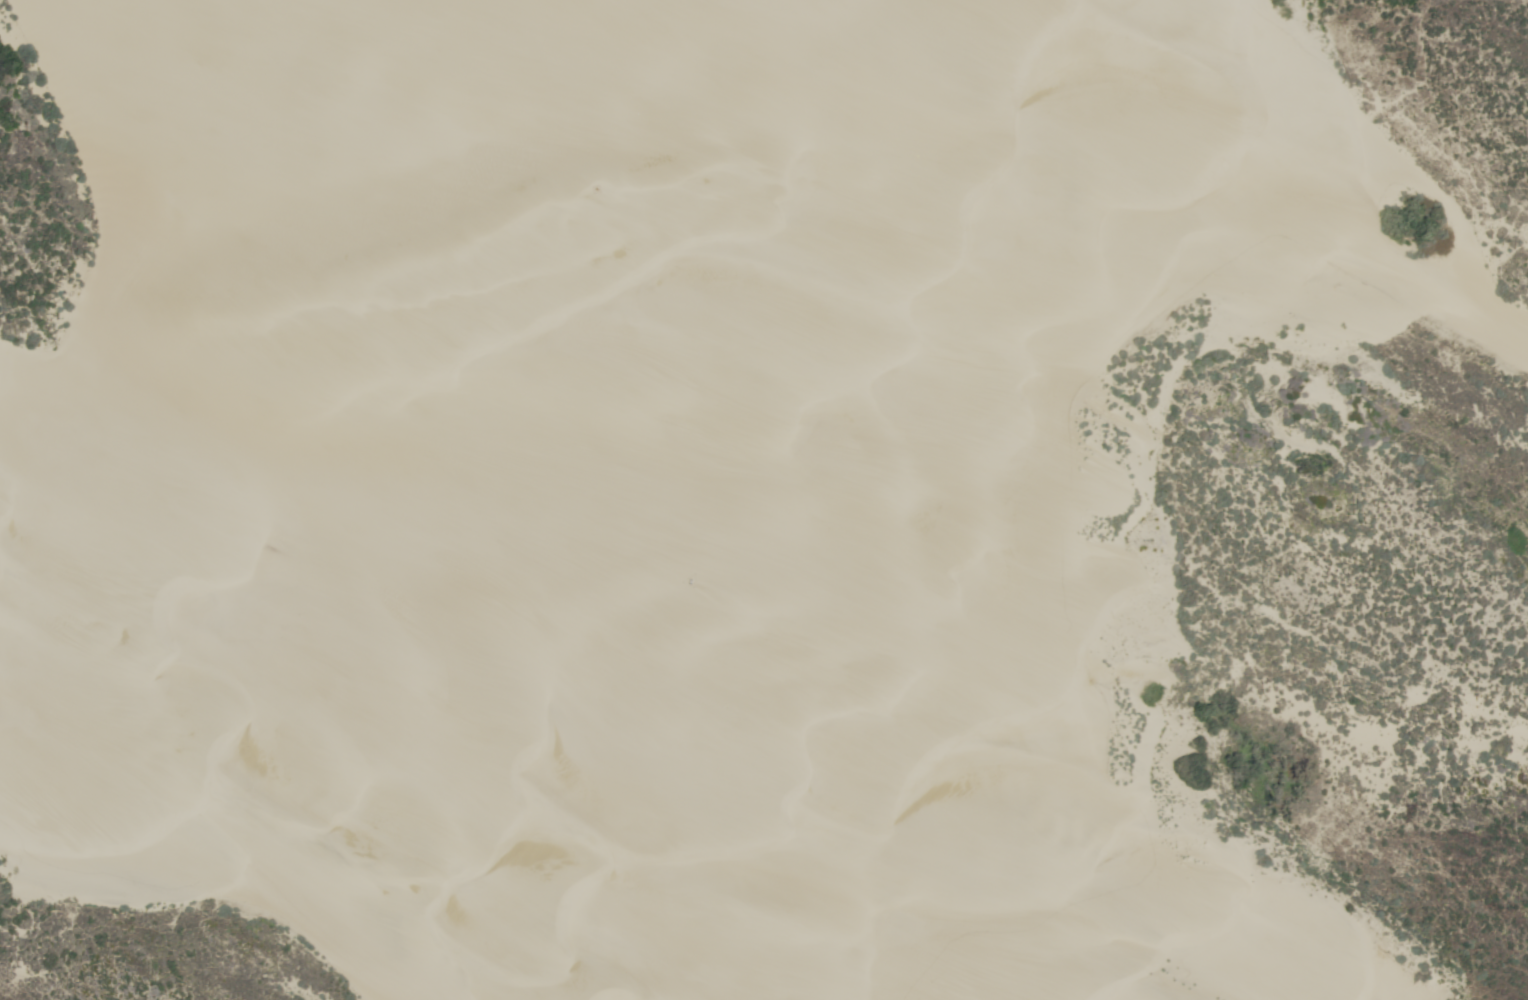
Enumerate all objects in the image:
road: (1113, 254)
road: (692, 500)
park: (771, 500)

